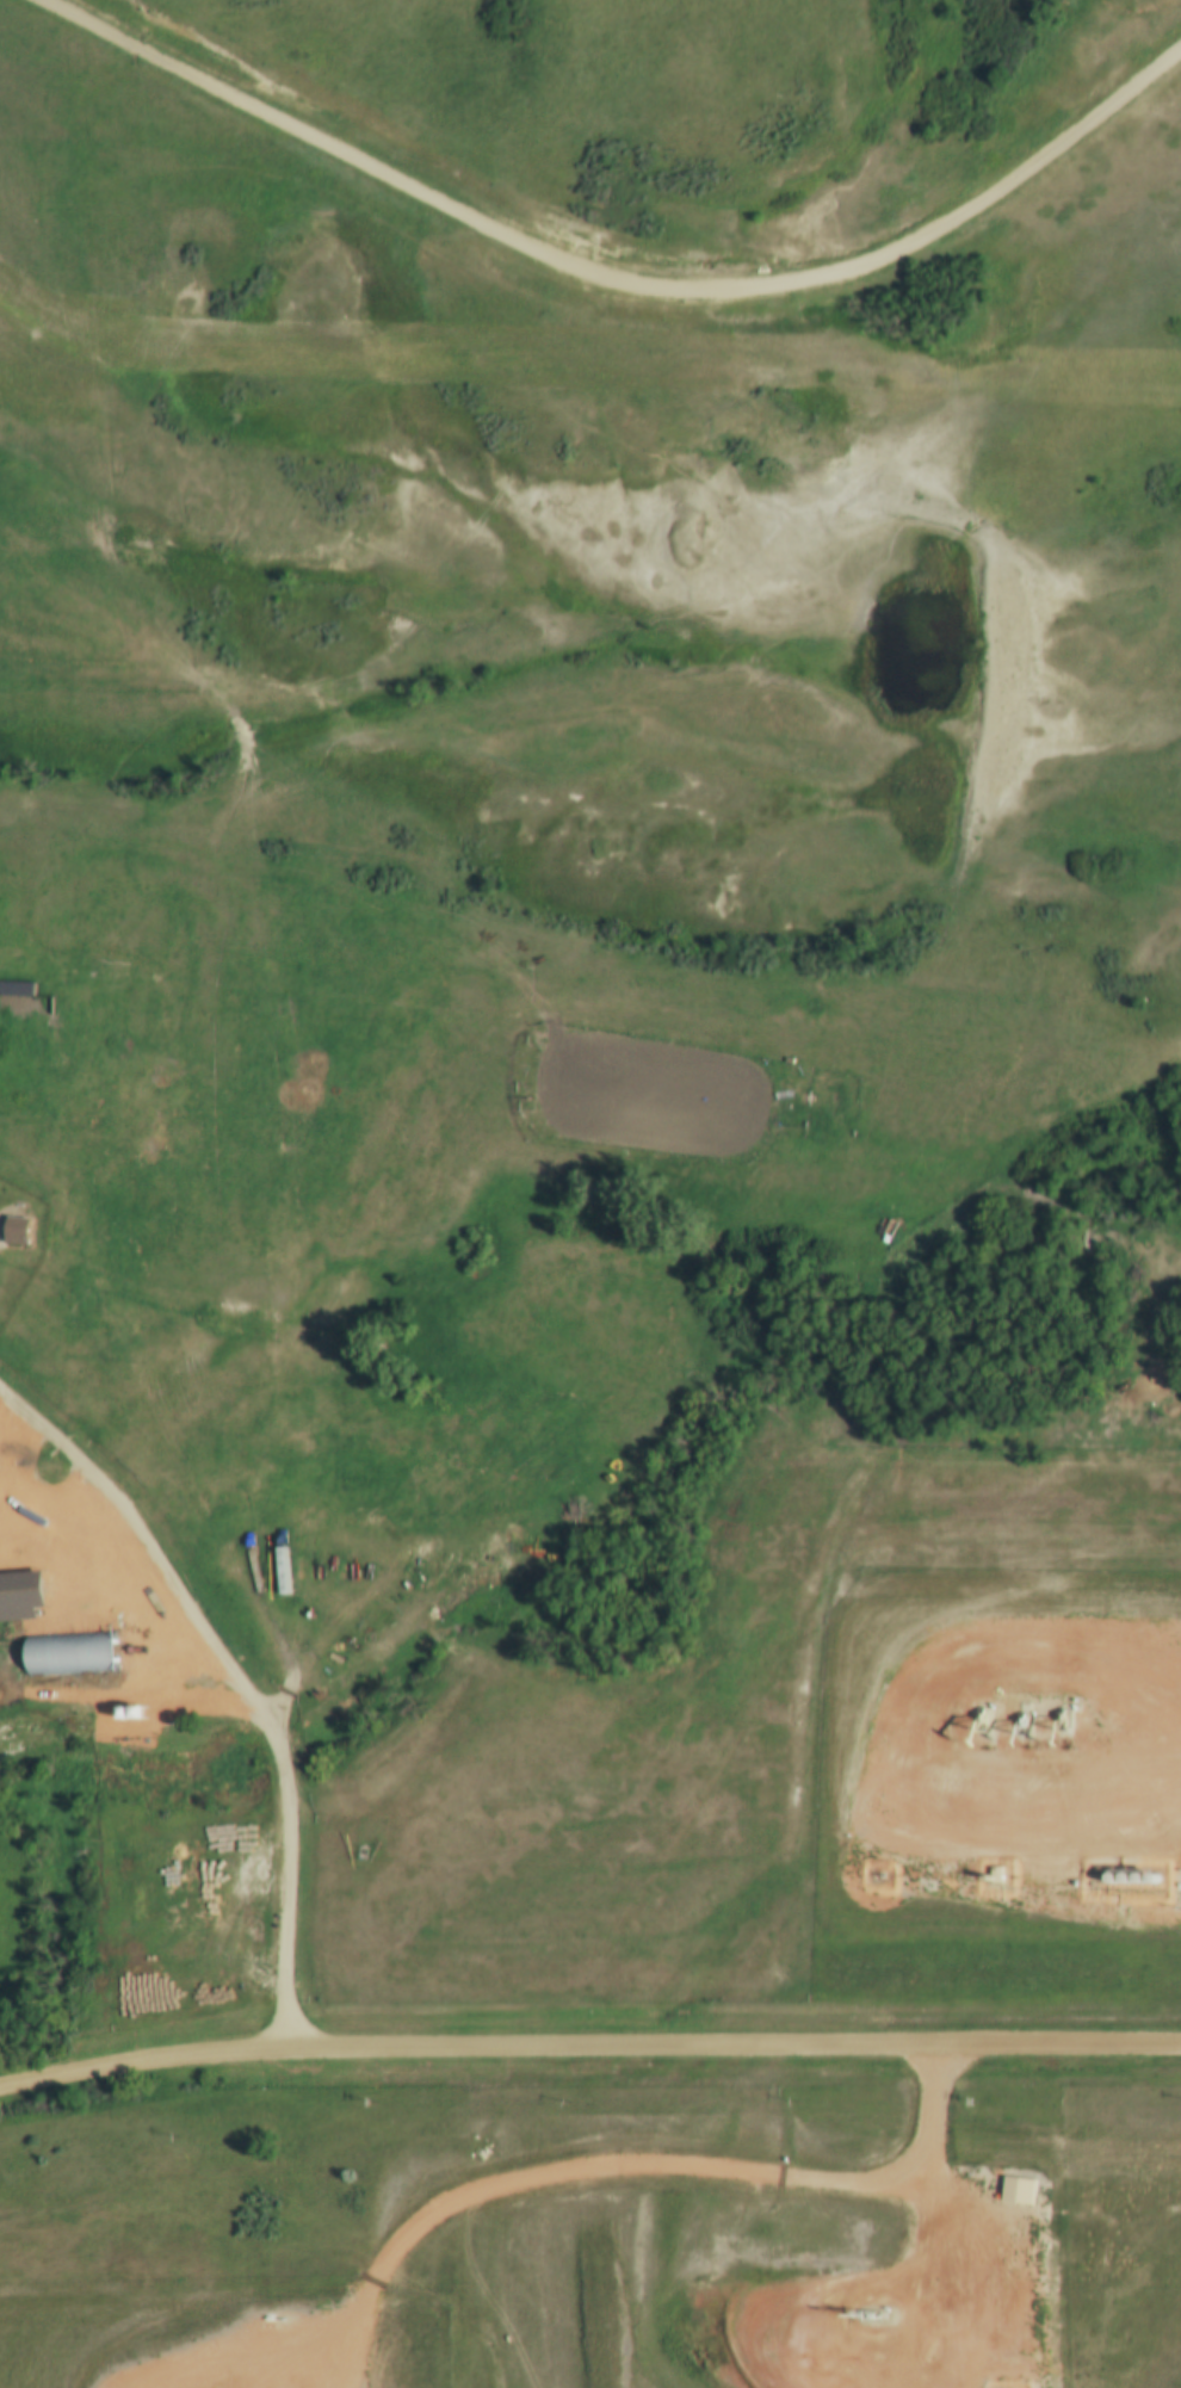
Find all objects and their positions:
road: (864, 1072)
building: (12, 1230)
road: (236, 1689)
road: (588, 2050)

